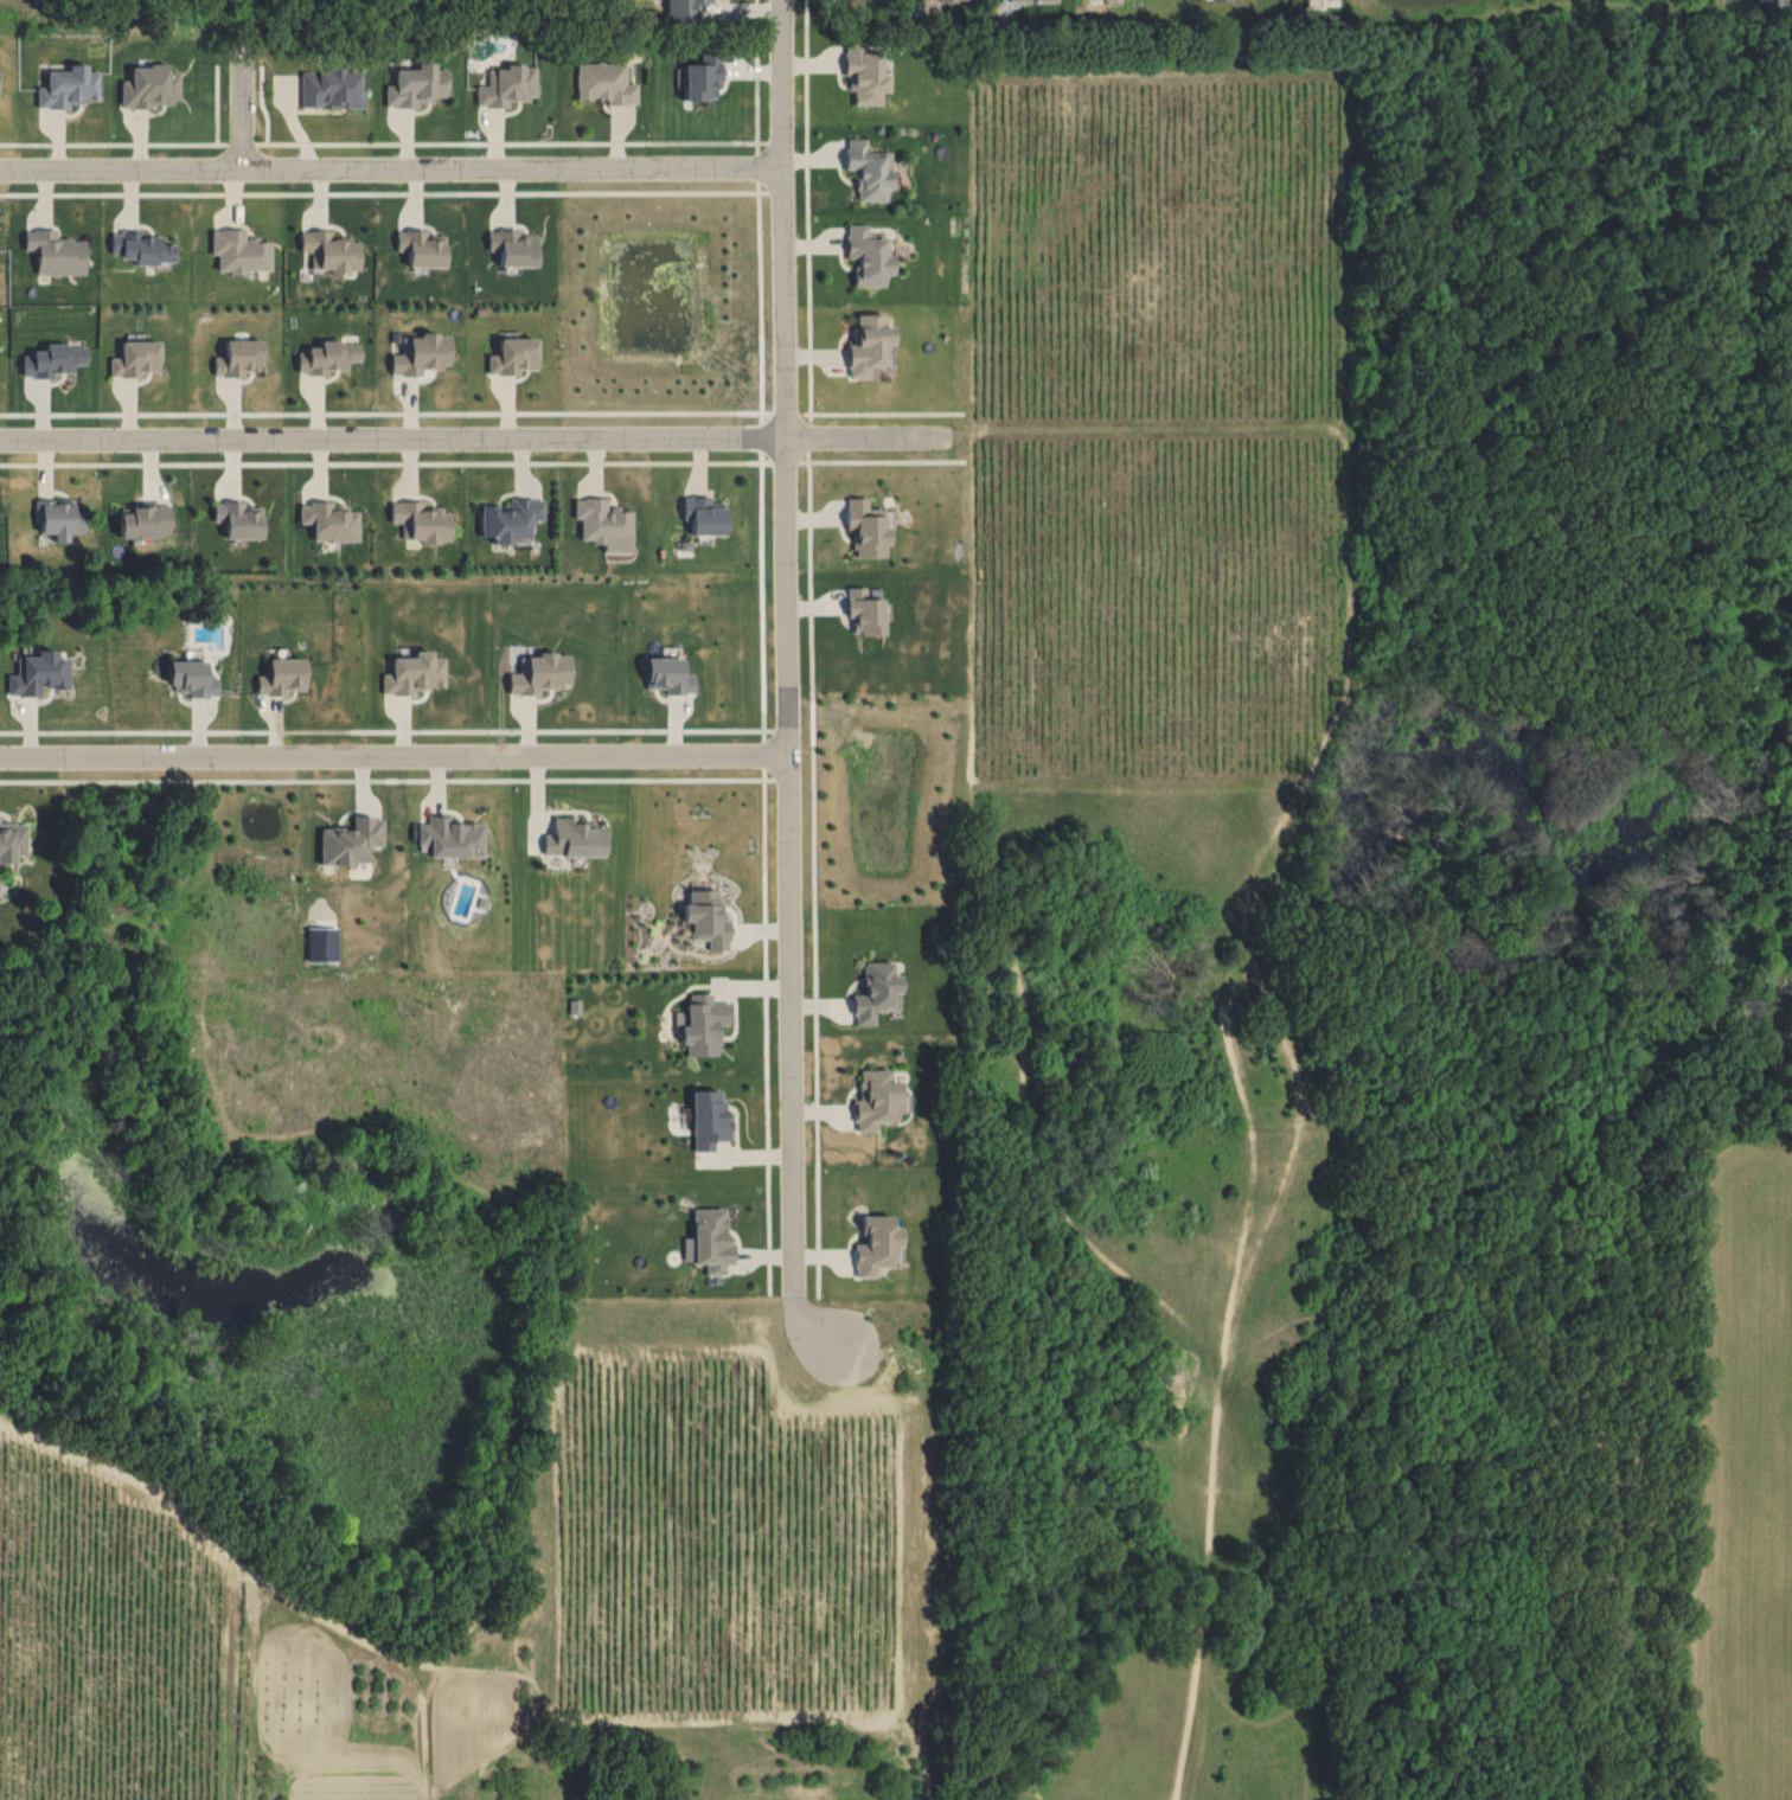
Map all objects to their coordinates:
building: (933, 0)
building: (1116, 0)
building: (1317, 0)
building: (955, 2)
building: (1223, 2)
building: (1050, 4)
building: (1773, 7)
building: (683, 14)
road: (756, 75)
building: (702, 77)
building: (868, 79)
building: (149, 85)
building: (607, 87)
building: (416, 89)
building: (68, 90)
building: (508, 90)
building: (333, 91)
road: (244, 117)
road: (113, 141)
road: (239, 141)
road: (510, 141)
road: (787, 149)
road: (812, 158)
road: (757, 166)
road: (392, 171)
road: (787, 174)
building: (870, 175)
road: (383, 191)
road: (807, 211)
building: (146, 246)
building: (421, 246)
building: (512, 246)
building: (329, 249)
building: (238, 250)
building: (56, 251)
building: (871, 263)
road: (759, 301)
building: (869, 350)
building: (422, 352)
building: (513, 354)
building: (328, 355)
building: (239, 357)
building: (136, 358)
building: (55, 359)
road: (385, 411)
road: (785, 412)
road: (881, 412)
road: (761, 435)
road: (808, 436)
road: (478, 442)
road: (785, 460)
road: (882, 460)
road: (385, 461)
building: (704, 514)
building: (511, 517)
building: (239, 518)
building: (147, 519)
building: (331, 520)
building: (422, 520)
building: (58, 523)
building: (866, 526)
road: (762, 594)
building: (865, 610)
building: (39, 672)
building: (412, 672)
building: (538, 672)
building: (667, 673)
building: (281, 675)
building: (193, 677)
road: (789, 681)
road: (395, 729)
road: (763, 752)
road: (393, 755)
road: (393, 779)
building: (452, 835)
building: (574, 837)
building: (12, 840)
building: (352, 840)
road: (813, 871)
building: (708, 917)
building: (324, 943)
building: (875, 991)
building: (705, 1025)
road: (766, 1029)
building: (875, 1097)
building: (709, 1119)
building: (711, 1238)
building: (875, 1244)

